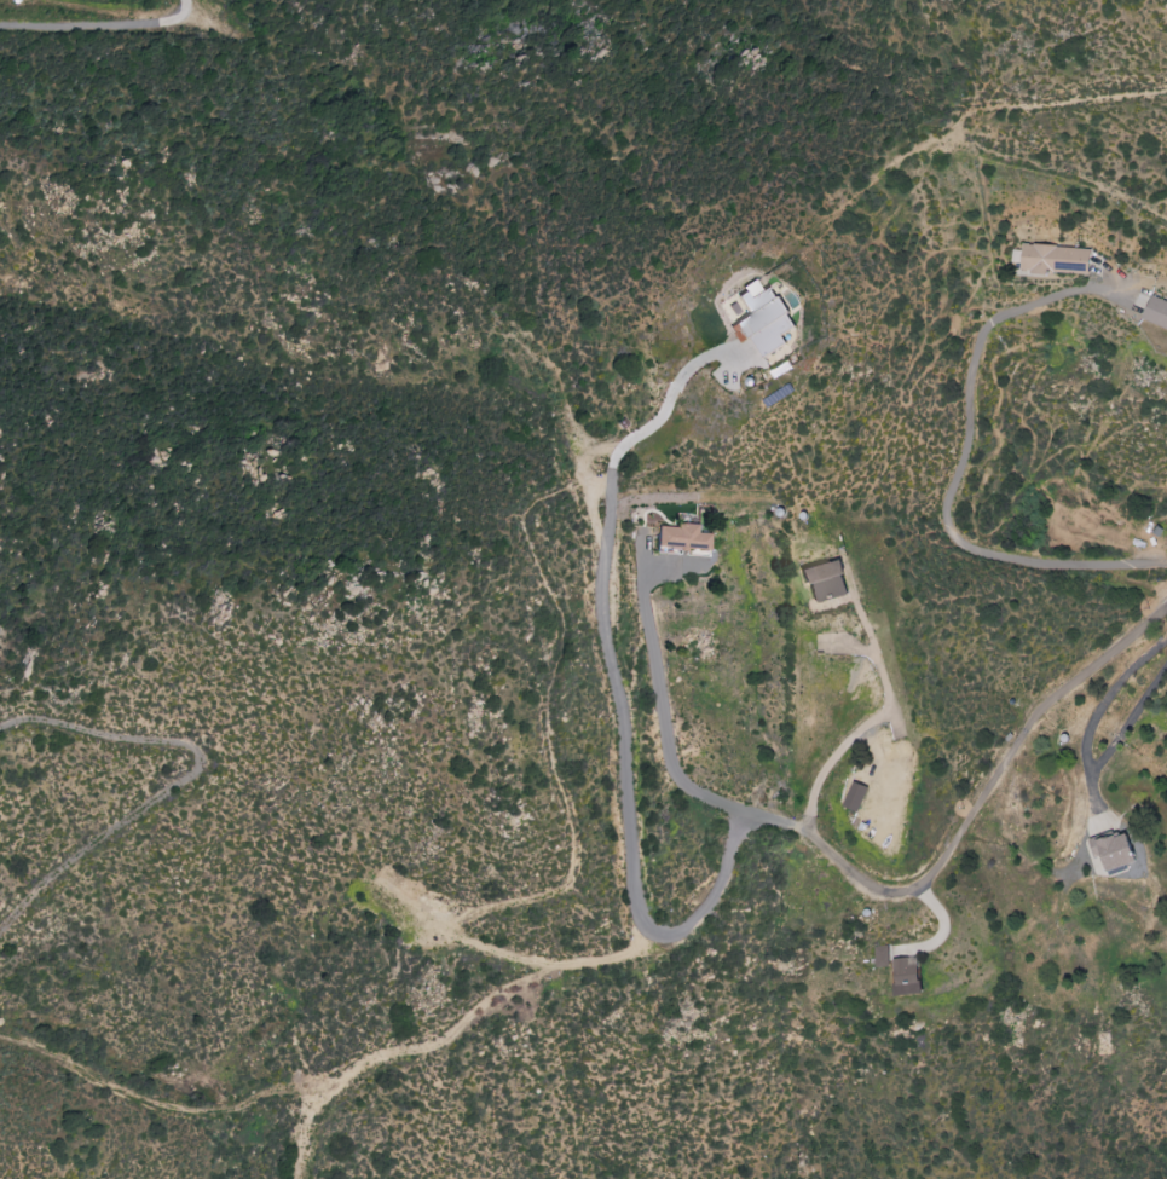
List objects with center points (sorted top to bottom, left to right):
road: (57, 5)
road: (1082, 187)
building: (1051, 260)
building: (1155, 314)
building: (753, 322)
road: (961, 363)
building: (689, 538)
road: (1084, 578)
building: (833, 580)
road: (1105, 695)
road: (620, 699)
road: (876, 717)
road: (664, 718)
road: (1122, 732)
road: (1011, 752)
building: (860, 791)
road: (816, 843)
building: (1120, 850)
building: (884, 955)
building: (912, 976)

